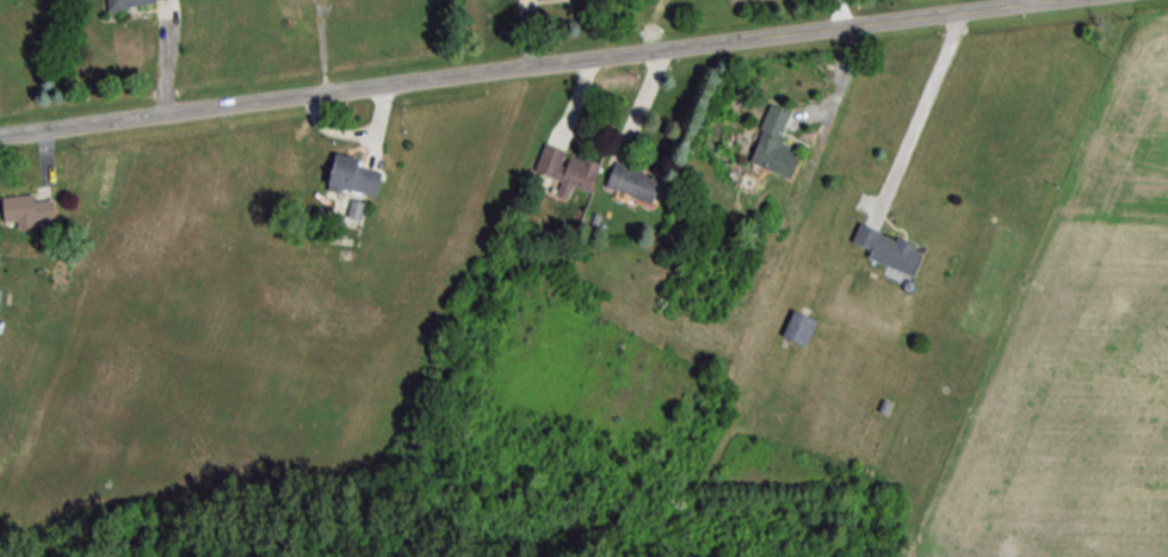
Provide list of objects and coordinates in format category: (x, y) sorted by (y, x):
building: (131, 1)
road: (520, 64)
road: (922, 110)
building: (777, 153)
building: (568, 169)
building: (354, 175)
building: (635, 182)
building: (29, 210)
building: (886, 248)
building: (801, 327)

